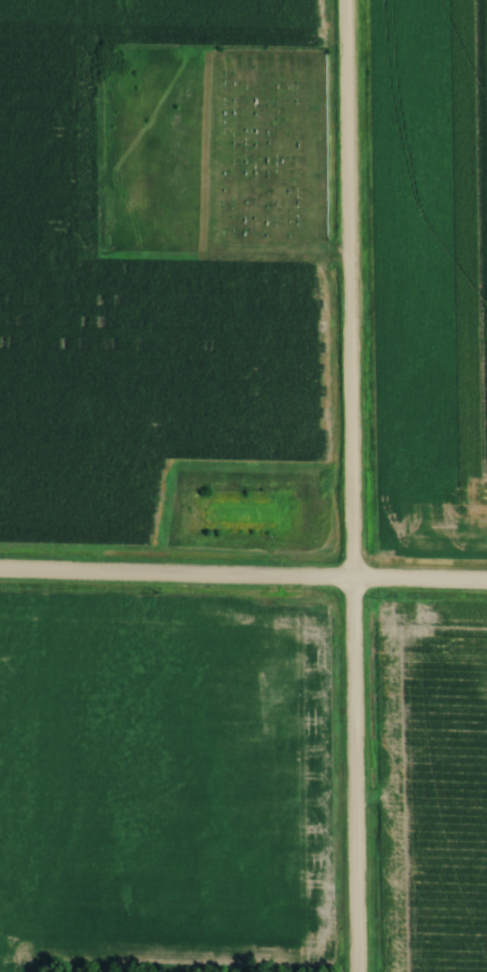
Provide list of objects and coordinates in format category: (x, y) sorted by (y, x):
road: (346, 485)
road: (243, 580)

